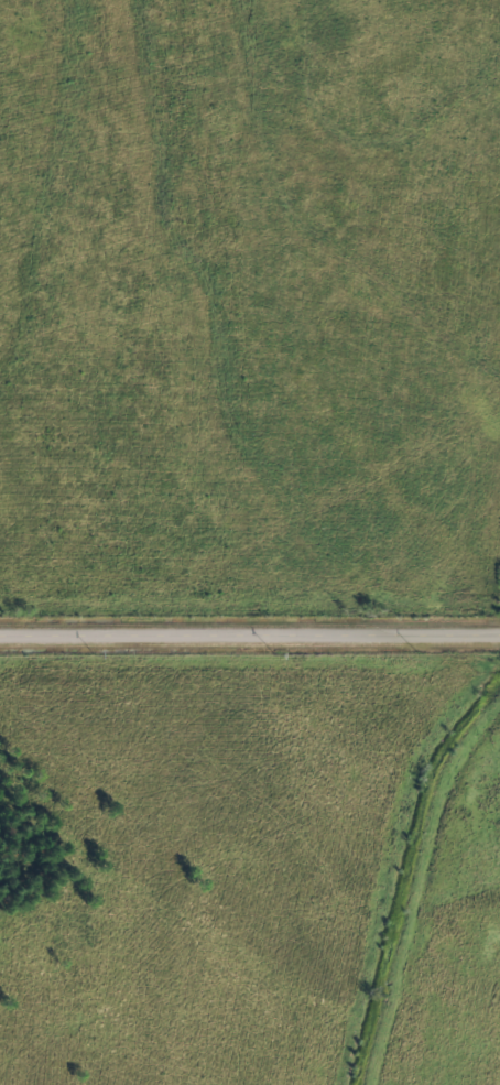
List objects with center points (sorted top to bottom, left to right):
road: (250, 638)

